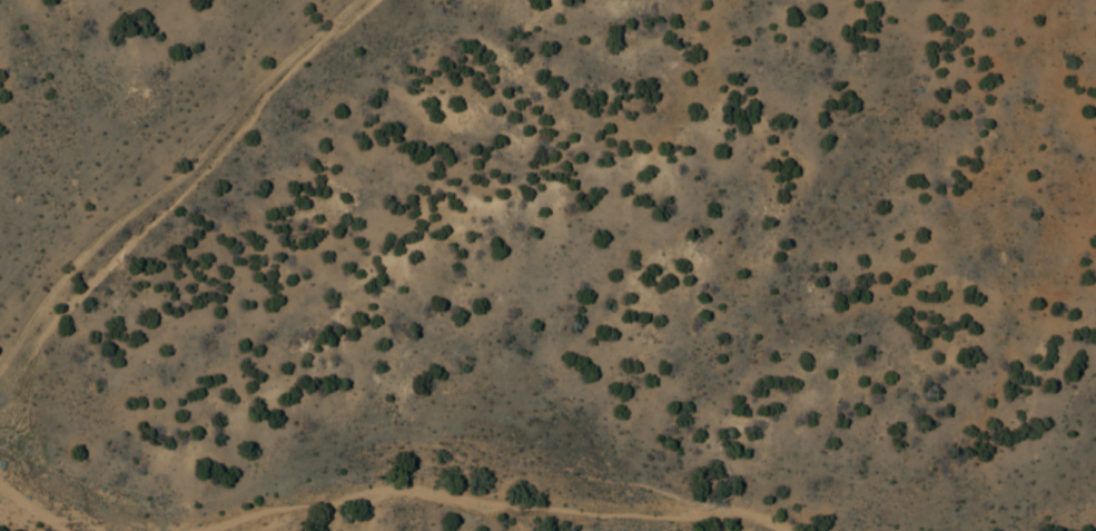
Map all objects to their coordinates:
road: (157, 168)

